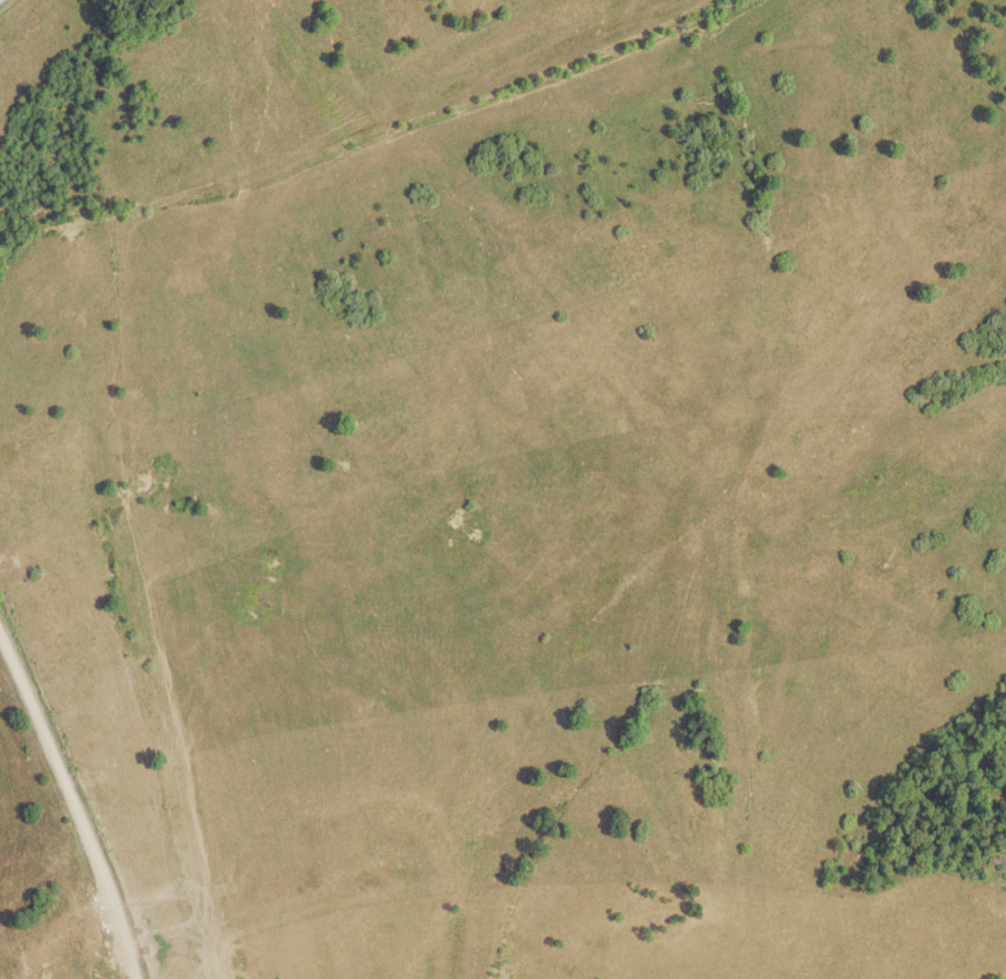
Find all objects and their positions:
road: (69, 805)

